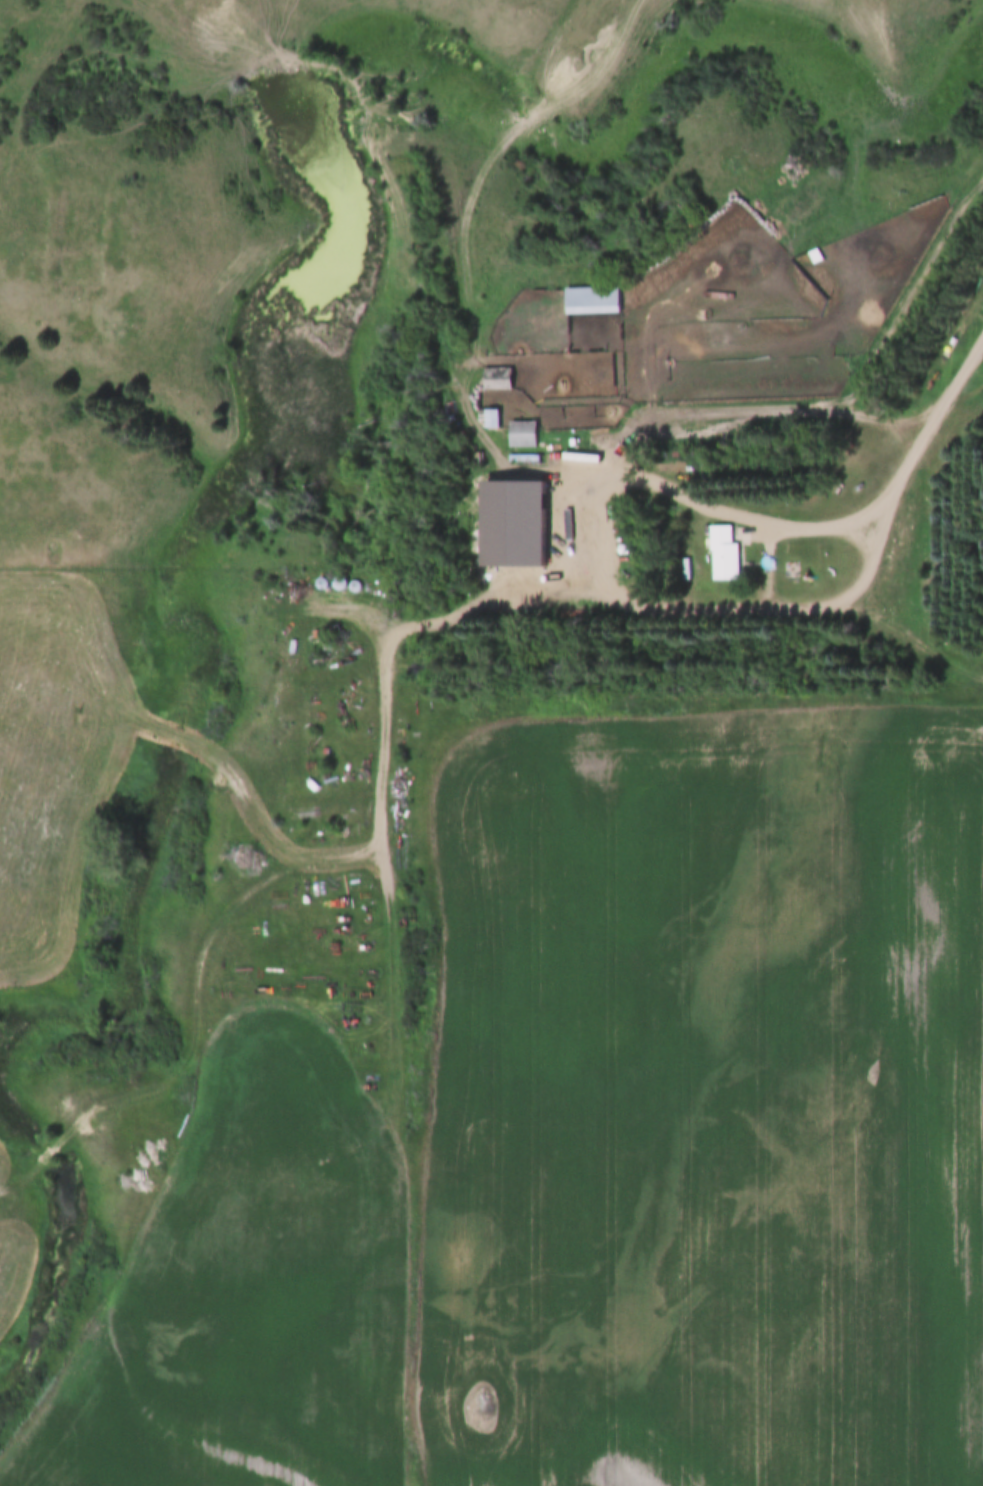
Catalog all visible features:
building: (590, 300)
building: (496, 378)
road: (769, 404)
building: (489, 418)
road: (938, 418)
building: (521, 434)
building: (511, 525)
road: (562, 547)
building: (722, 554)
road: (774, 566)
road: (911, 638)
road: (302, 858)

